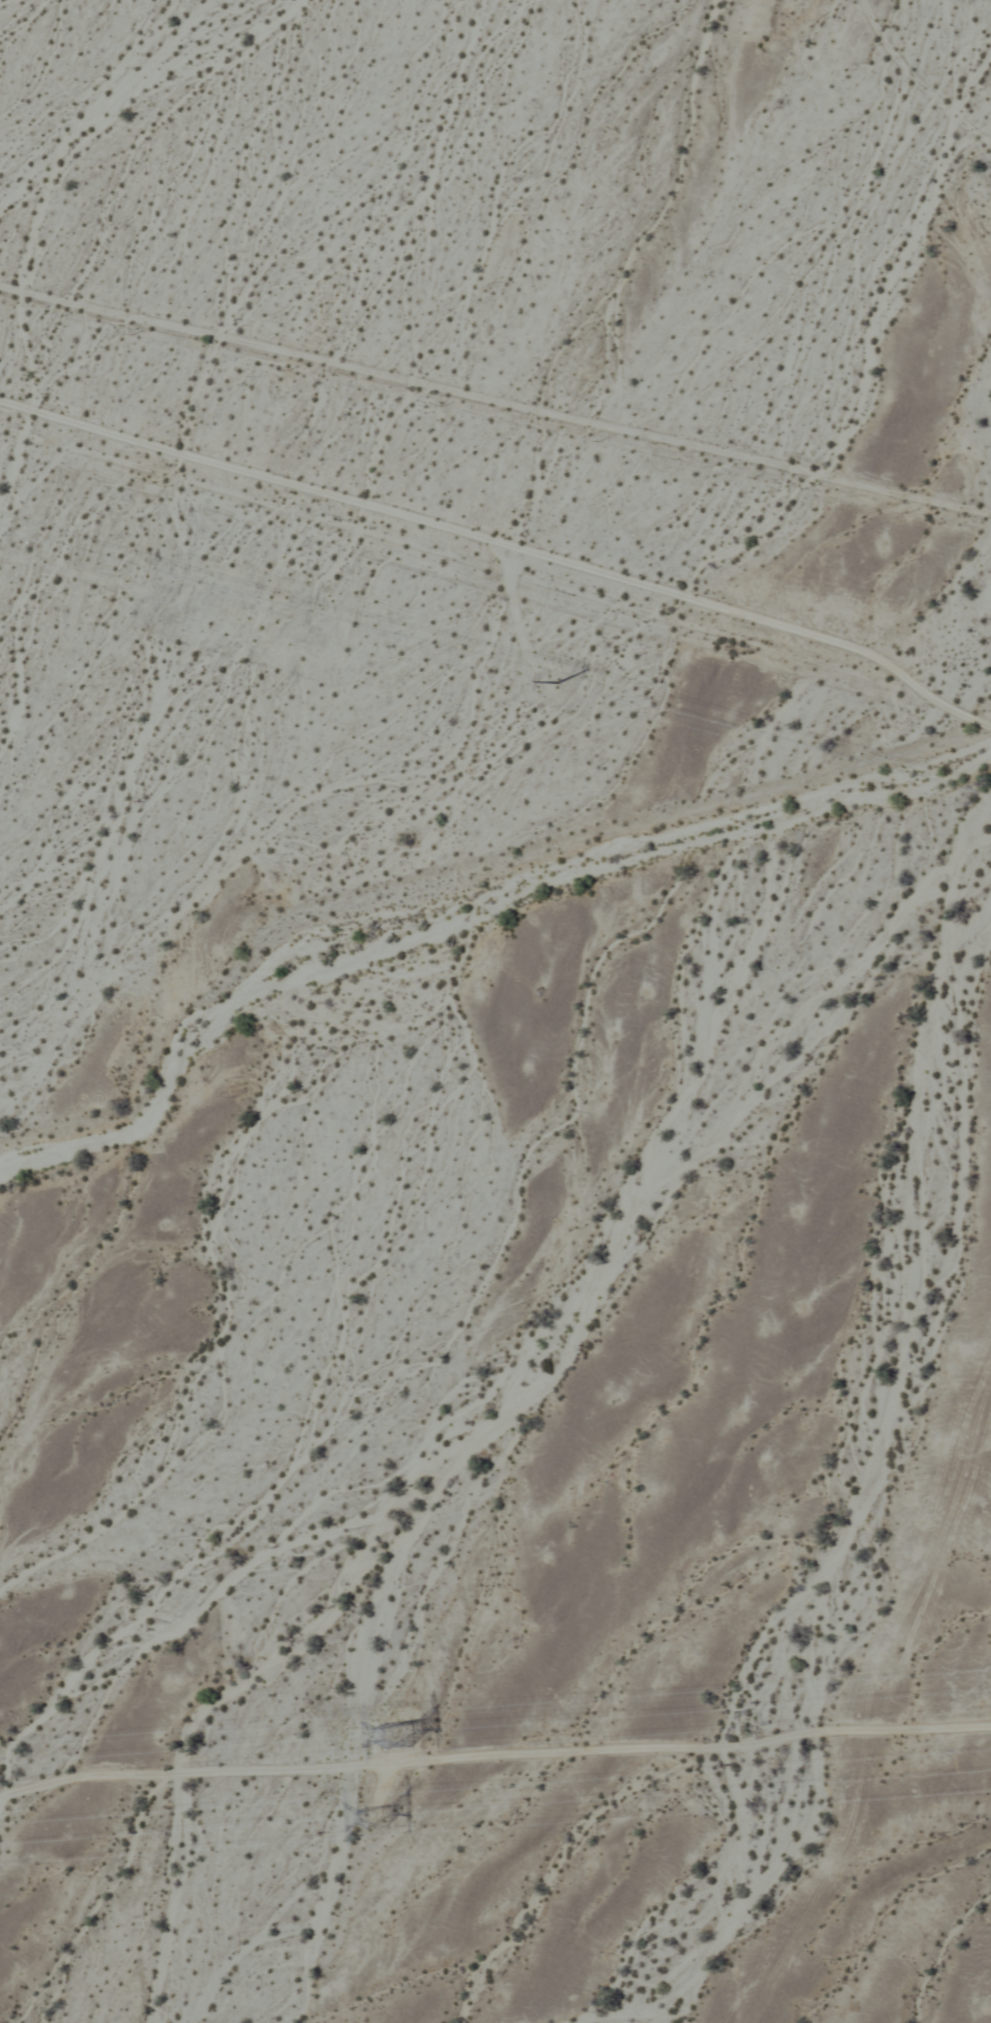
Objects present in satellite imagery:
road: (495, 402)
road: (504, 544)
power tower: (390, 1733)
power tower: (368, 1810)

